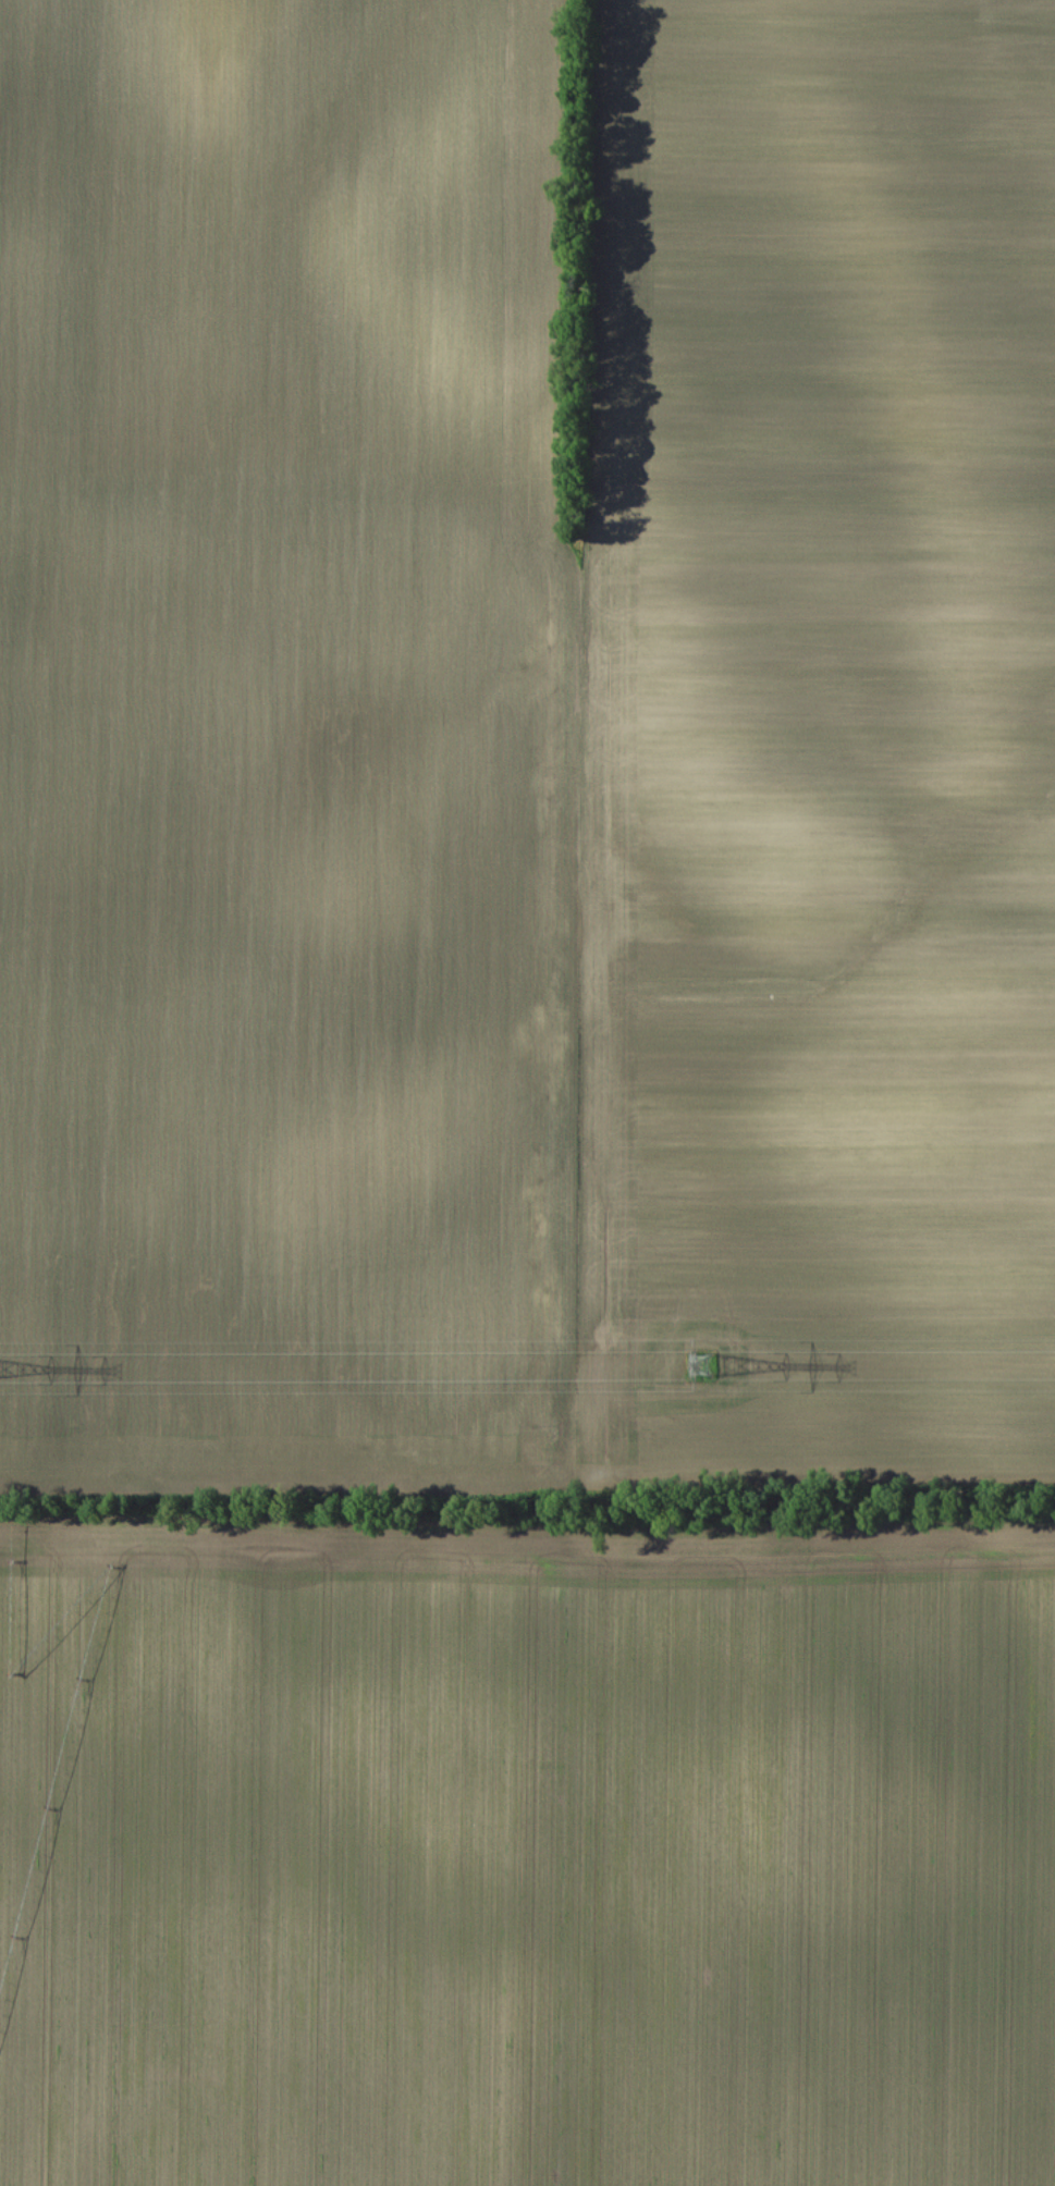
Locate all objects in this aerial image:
power tower: (699, 1365)

